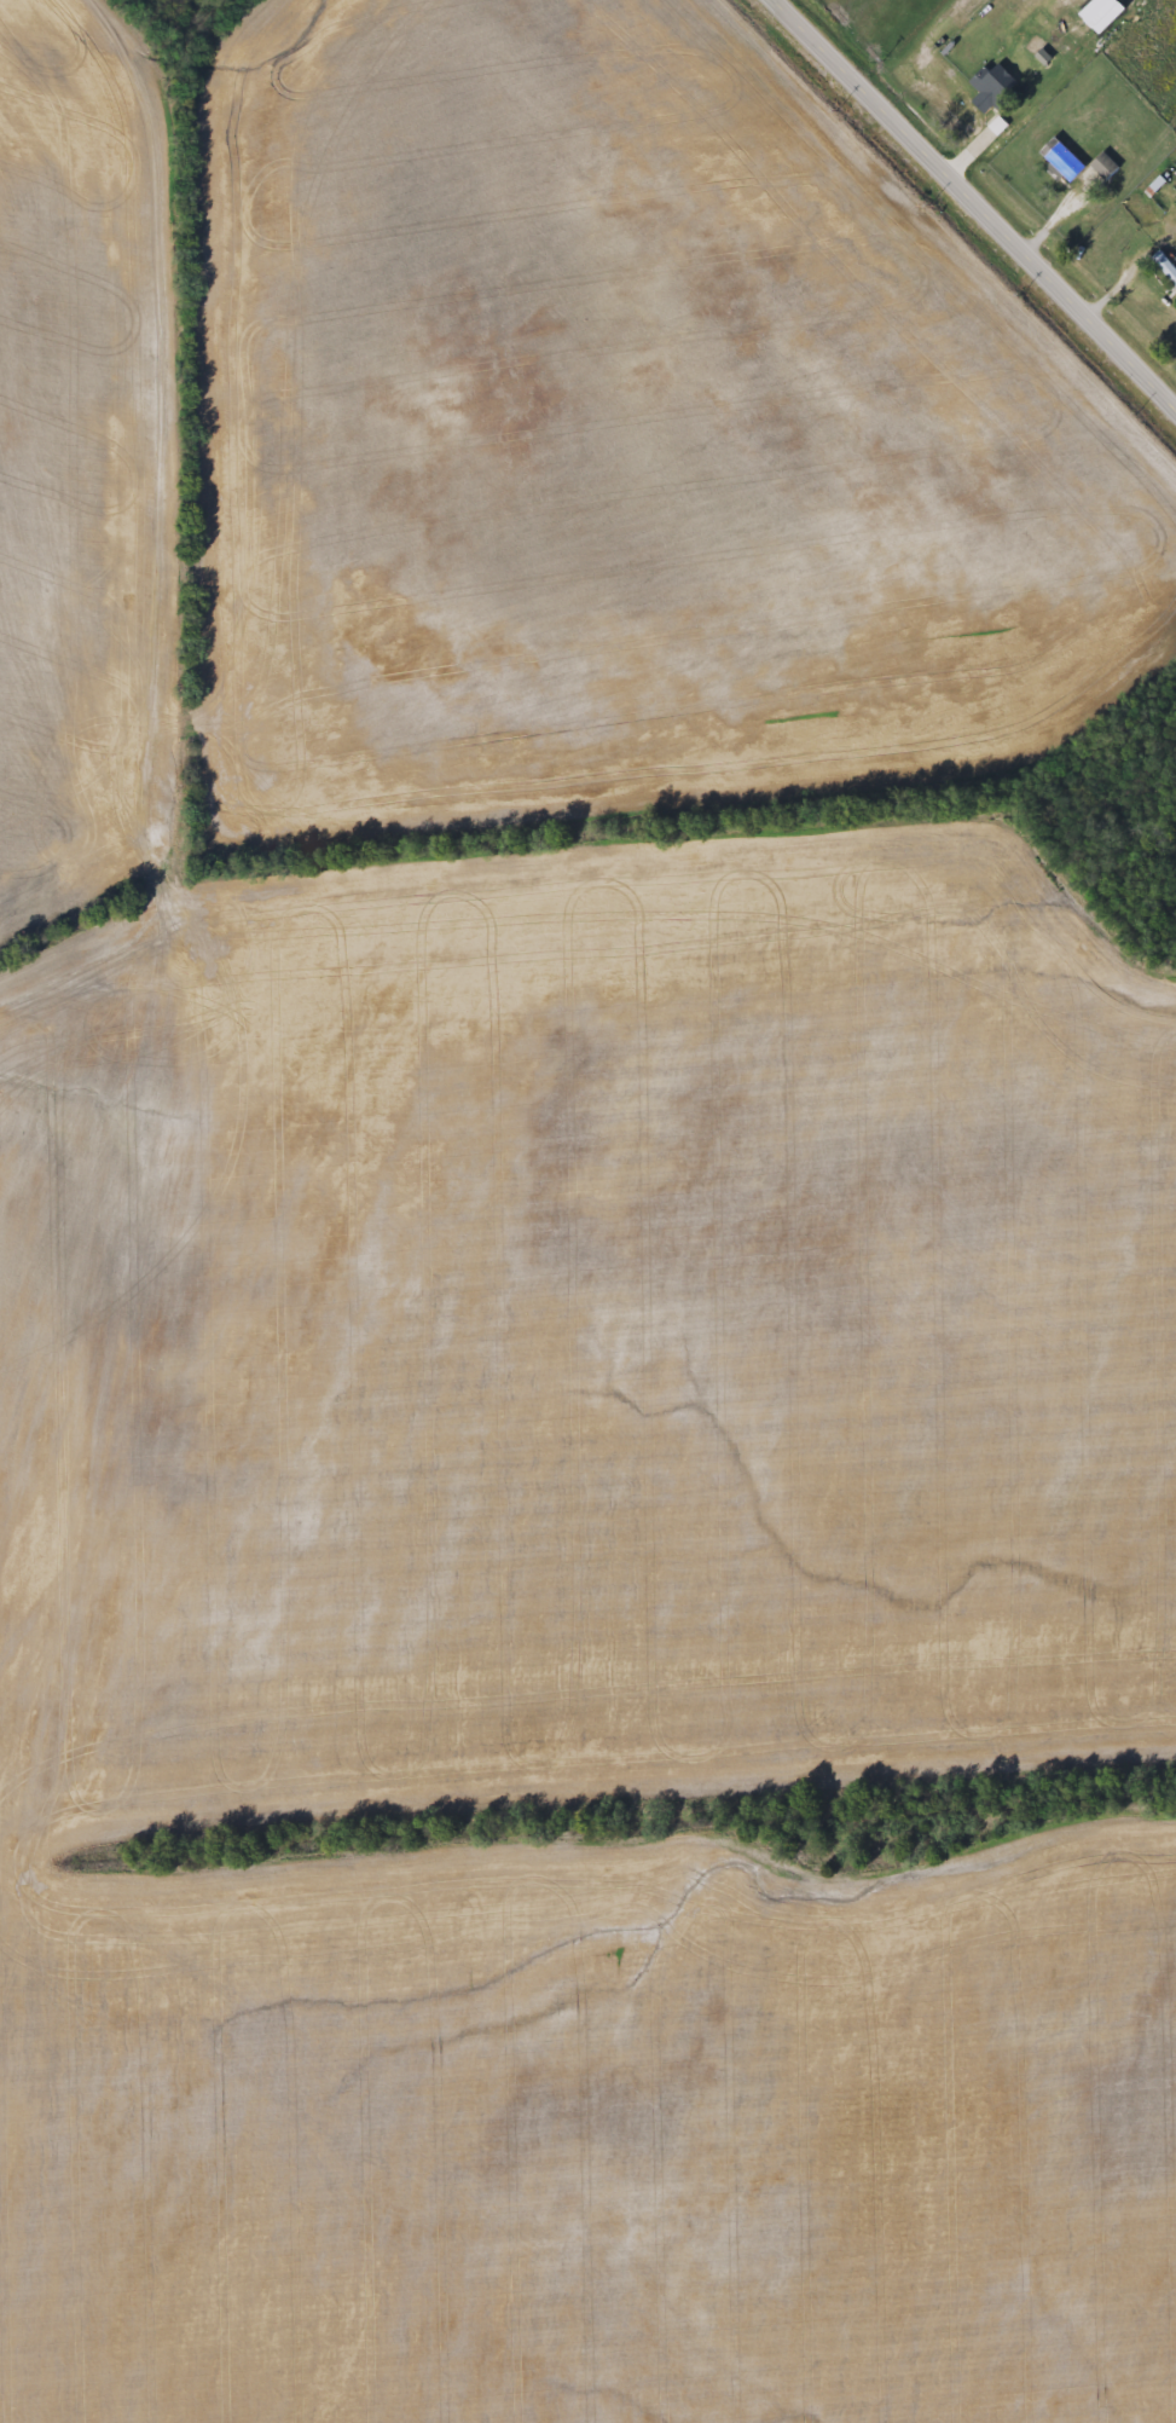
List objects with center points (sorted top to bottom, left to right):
building: (991, 89)
road: (971, 144)
building: (1061, 160)
building: (1105, 167)
road: (977, 202)
road: (1053, 214)
building: (1165, 267)

